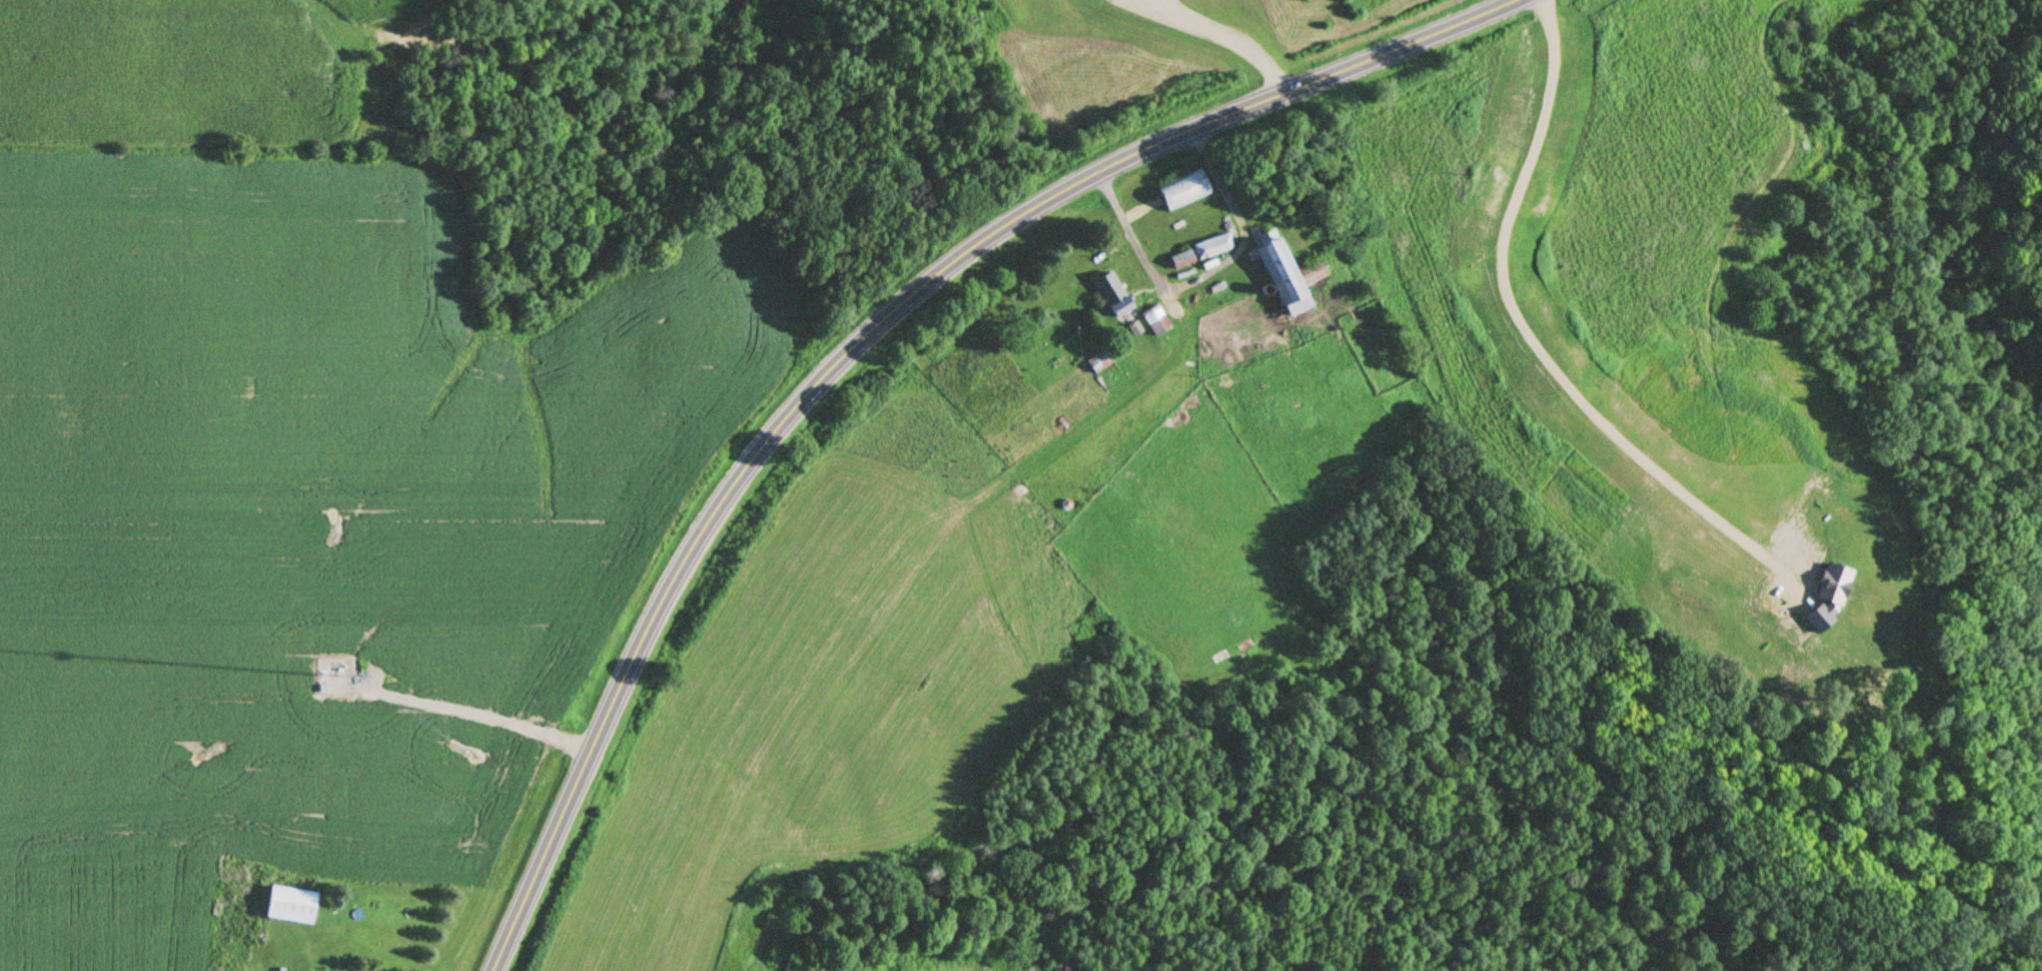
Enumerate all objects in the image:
road: (1227, 33)
building: (1186, 193)
building: (1215, 247)
building: (1183, 260)
road: (1206, 272)
building: (1281, 277)
building: (1113, 295)
building: (1156, 321)
road: (851, 338)
building: (1100, 361)
building: (291, 906)

